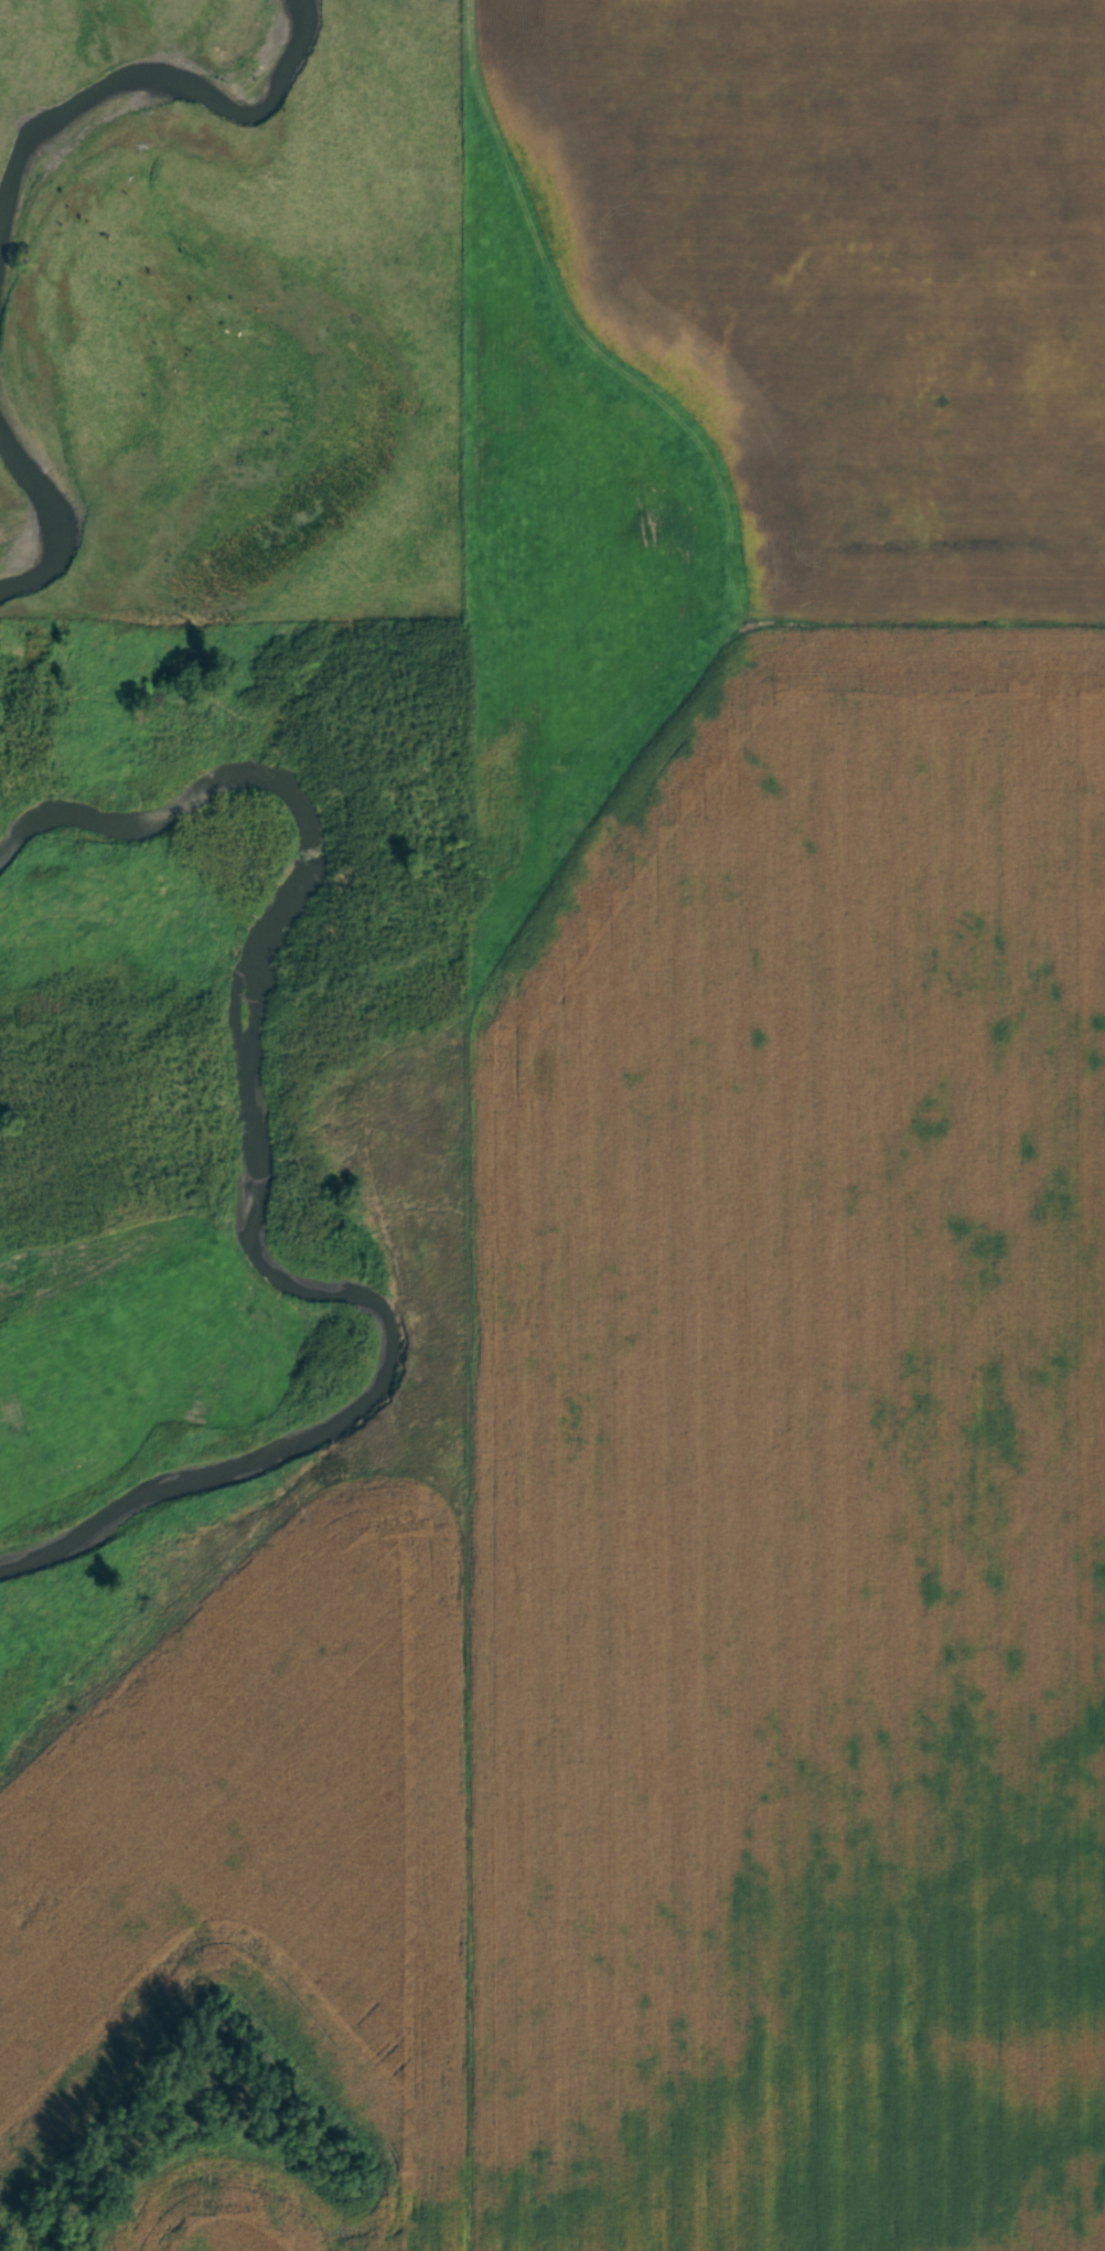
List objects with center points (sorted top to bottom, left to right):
river: (136, 92)
crop: (852, 268)
river: (50, 506)
river: (244, 1174)

